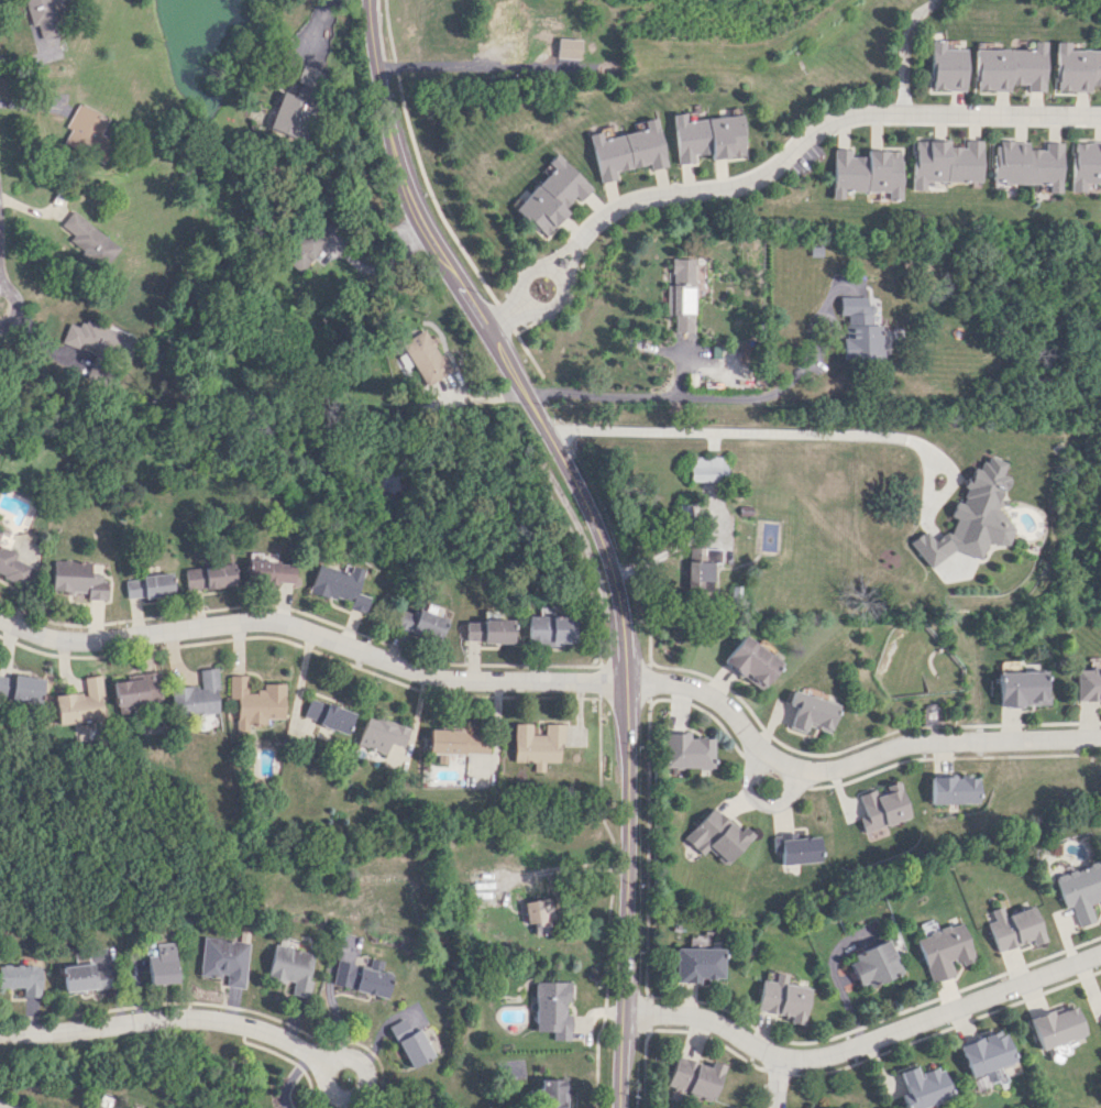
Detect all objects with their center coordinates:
building: (43, 17)
building: (509, 34)
building: (569, 47)
road: (904, 53)
road: (32, 58)
road: (493, 67)
building: (946, 67)
building: (1009, 67)
building: (1075, 68)
building: (296, 106)
road: (956, 122)
building: (87, 133)
road: (808, 133)
building: (706, 136)
road: (810, 142)
building: (627, 151)
road: (419, 160)
building: (946, 162)
building: (1027, 164)
building: (1085, 164)
building: (867, 172)
road: (685, 183)
building: (552, 196)
road: (0, 235)
building: (88, 240)
building: (309, 243)
road: (576, 244)
road: (2, 257)
building: (681, 294)
road: (566, 307)
road: (14, 308)
road: (535, 308)
road: (506, 315)
road: (504, 316)
building: (859, 329)
building: (100, 343)
road: (527, 351)
building: (426, 356)
road: (638, 394)
road: (727, 431)
building: (706, 468)
building: (970, 517)
road: (595, 528)
building: (0, 531)
building: (700, 563)
building: (12, 566)
building: (268, 571)
building: (207, 575)
building: (77, 578)
building: (147, 585)
building: (337, 585)
road: (301, 613)
building: (417, 622)
building: (550, 629)
building: (486, 630)
road: (313, 635)
road: (299, 646)
road: (648, 649)
road: (601, 658)
building: (750, 661)
road: (625, 667)
road: (601, 680)
road: (647, 681)
building: (1089, 681)
building: (21, 688)
building: (1022, 688)
building: (135, 689)
road: (623, 694)
building: (196, 695)
building: (254, 702)
building: (80, 703)
road: (704, 710)
building: (807, 712)
building: (327, 717)
building: (378, 734)
building: (456, 742)
road: (858, 743)
building: (536, 744)
building: (685, 752)
road: (939, 757)
road: (848, 765)
road: (773, 770)
building: (955, 789)
road: (760, 799)
building: (882, 805)
building: (715, 835)
building: (797, 847)
road: (647, 848)
road: (553, 869)
building: (1079, 890)
road: (608, 900)
building: (528, 911)
building: (1012, 928)
building: (943, 951)
building: (223, 959)
building: (161, 964)
building: (696, 964)
building: (873, 964)
building: (290, 966)
building: (84, 977)
building: (361, 977)
building: (21, 978)
building: (782, 998)
road: (220, 1005)
building: (552, 1009)
road: (647, 1017)
building: (1100, 1019)
road: (168, 1020)
road: (874, 1021)
road: (948, 1027)
building: (1055, 1027)
road: (708, 1036)
road: (863, 1042)
building: (410, 1043)
road: (288, 1060)
road: (643, 1069)
road: (780, 1069)
building: (695, 1076)
road: (287, 1078)
road: (780, 1083)
road: (365, 1086)
building: (922, 1087)
building: (552, 1093)
building: (97, 1106)

